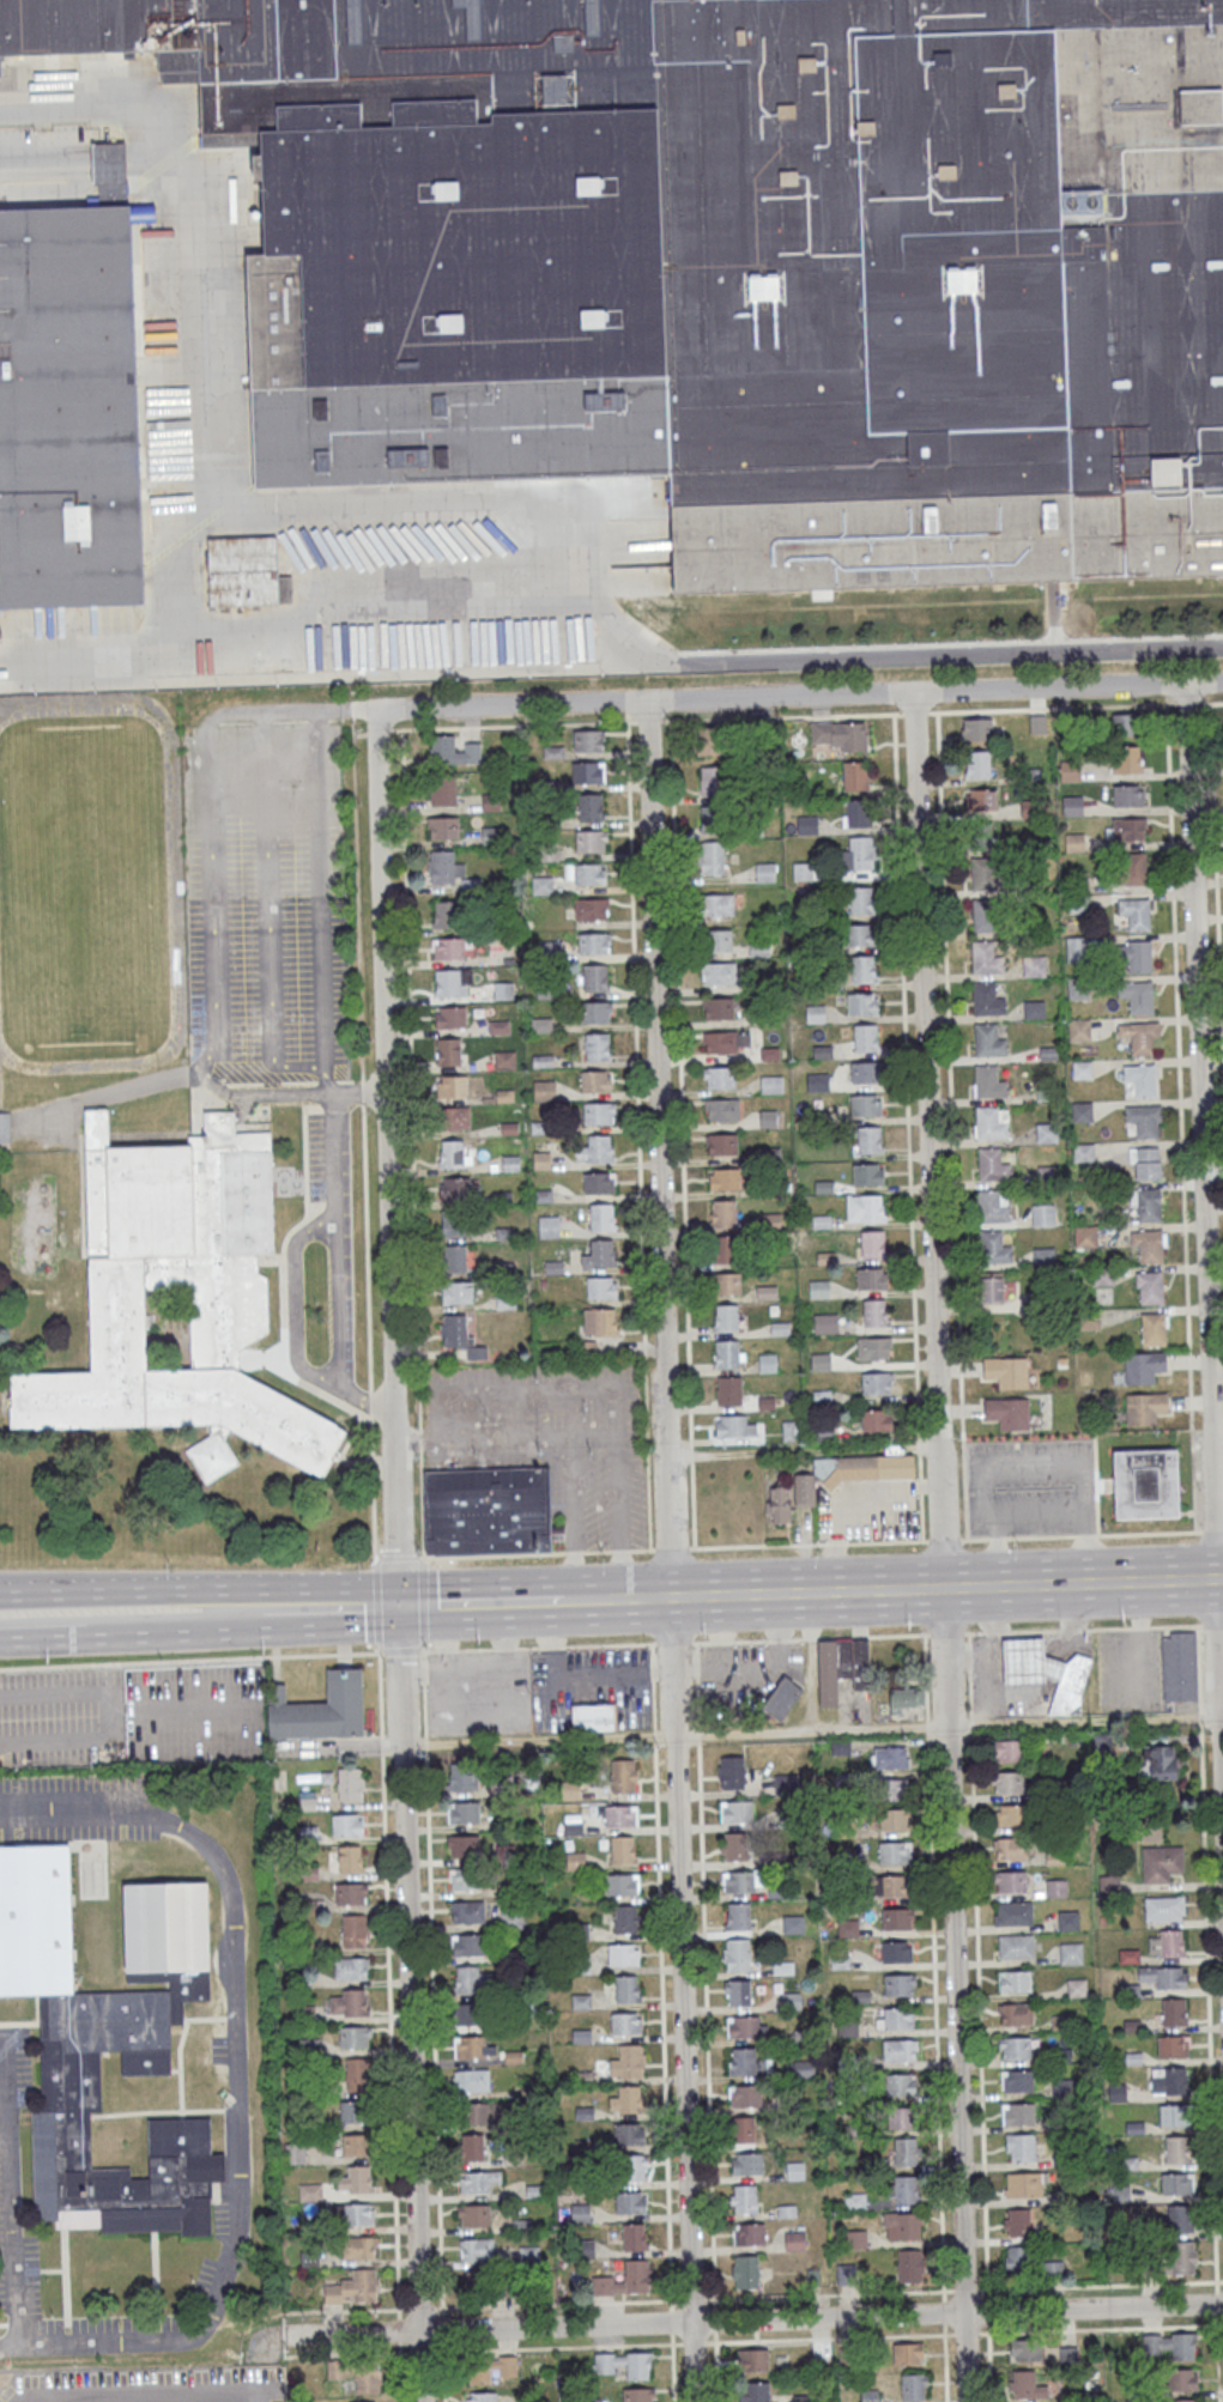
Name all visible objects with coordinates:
road: (97, 110)
building: (107, 164)
road: (80, 165)
road: (107, 165)
road: (36, 166)
road: (71, 175)
road: (32, 186)
building: (737, 263)
building: (68, 416)
road: (564, 510)
building: (246, 572)
road: (810, 696)
road: (231, 714)
building: (1126, 723)
building: (977, 730)
building: (838, 734)
building: (588, 740)
building: (709, 741)
building: (452, 751)
building: (1126, 758)
building: (977, 765)
building: (1072, 770)
building: (587, 772)
building: (855, 775)
building: (710, 781)
building: (442, 790)
building: (1128, 795)
building: (980, 800)
building: (1072, 806)
building: (591, 807)
building: (856, 813)
building: (712, 818)
building: (807, 825)
building: (442, 826)
building: (1126, 829)
building: (981, 835)
building: (589, 841)
road: (320, 854)
building: (858, 854)
building: (712, 857)
building: (444, 868)
building: (1132, 868)
building: (764, 872)
building: (985, 873)
building: (589, 874)
building: (543, 886)
building: (860, 899)
building: (718, 904)
building: (591, 909)
building: (1134, 914)
building: (447, 915)
building: (986, 916)
building: (860, 934)
road: (217, 935)
building: (720, 940)
building: (593, 944)
building: (448, 948)
building: (1077, 948)
building: (1136, 954)
building: (987, 958)
building: (864, 969)
building: (719, 973)
building: (594, 978)
building: (450, 983)
building: (1077, 988)
building: (1137, 996)
building: (987, 999)
building: (862, 1003)
building: (719, 1007)
building: (1034, 1009)
building: (595, 1012)
building: (813, 1012)
building: (450, 1017)
building: (1078, 1029)
building: (1137, 1036)
building: (866, 1038)
building: (726, 1041)
building: (988, 1041)
building: (597, 1045)
building: (448, 1051)
building: (864, 1073)
building: (719, 1076)
building: (1140, 1079)
building: (595, 1081)
building: (988, 1081)
building: (817, 1082)
building: (771, 1084)
building: (452, 1085)
building: (543, 1090)
road: (266, 1093)
road: (358, 1093)
building: (865, 1106)
building: (721, 1109)
building: (1083, 1112)
building: (598, 1114)
building: (454, 1117)
building: (1144, 1120)
building: (991, 1122)
building: (4, 1127)
building: (1046, 1133)
building: (868, 1140)
building: (721, 1144)
building: (595, 1150)
road: (658, 1150)
building: (453, 1154)
building: (769, 1157)
building: (992, 1165)
building: (1146, 1165)
building: (867, 1173)
building: (725, 1179)
building: (599, 1182)
building: (454, 1187)
building: (993, 1206)
building: (1148, 1206)
building: (865, 1207)
building: (722, 1213)
building: (1042, 1214)
building: (601, 1217)
building: (453, 1223)
building: (549, 1226)
road: (334, 1231)
building: (1086, 1236)
building: (872, 1243)
building: (995, 1245)
building: (1148, 1247)
building: (722, 1248)
building: (600, 1255)
building: (1043, 1255)
building: (454, 1257)
road: (1205, 1266)
building: (871, 1278)
building: (727, 1282)
building: (601, 1287)
building: (1150, 1287)
building: (818, 1288)
building: (989, 1290)
building: (456, 1292)
road: (295, 1302)
building: (229, 1312)
building: (874, 1312)
building: (726, 1318)
building: (600, 1321)
building: (825, 1323)
building: (1152, 1329)
building: (459, 1335)
building: (874, 1347)
building: (585, 1348)
building: (726, 1354)
building: (821, 1361)
building: (1143, 1366)
building: (1006, 1371)
building: (877, 1383)
building: (728, 1390)
road: (363, 1400)
building: (1145, 1407)
building: (1007, 1412)
building: (877, 1419)
building: (733, 1426)
building: (791, 1431)
building: (824, 1433)
road: (563, 1437)
road: (803, 1452)
building: (850, 1473)
building: (1146, 1482)
road: (373, 1491)
road: (619, 1494)
building: (780, 1505)
building: (486, 1511)
road: (1209, 1530)
road: (806, 1545)
road: (942, 1547)
road: (396, 1551)
road: (398, 1559)
road: (375, 1561)
road: (423, 1561)
road: (946, 1588)
road: (256, 1589)
road: (85, 1591)
road: (370, 1597)
road: (646, 1599)
road: (586, 1600)
road: (609, 1600)
road: (571, 1601)
road: (423, 1603)
road: (482, 1603)
road: (376, 1605)
traffic signals: (398, 1607)
road: (334, 1627)
road: (172, 1633)
road: (946, 1633)
road: (38, 1637)
road: (380, 1651)
road: (400, 1651)
road: (189, 1660)
building: (1029, 1662)
building: (1180, 1666)
building: (841, 1667)
parking lot: (1130, 1672)
building: (1070, 1687)
building: (782, 1697)
building: (906, 1700)
building: (320, 1708)
building: (593, 1717)
road: (1221, 1718)
road: (810, 1734)
building: (1007, 1751)
building: (889, 1757)
building: (1160, 1763)
building: (731, 1772)
building: (623, 1776)
building: (462, 1777)
building: (327, 1778)
building: (785, 1783)
building: (1007, 1783)
building: (350, 1784)
building: (894, 1789)
building: (570, 1791)
building: (737, 1810)
building: (462, 1813)
building: (619, 1815)
building: (1010, 1816)
building: (894, 1819)
building: (347, 1824)
building: (462, 1846)
building: (731, 1846)
road: (930, 1848)
building: (1013, 1848)
building: (623, 1849)
building: (895, 1851)
building: (349, 1860)
building: (574, 1860)
building: (1161, 1862)
building: (465, 1880)
building: (1010, 1880)
building: (739, 1881)
road: (702, 1882)
building: (620, 1884)
building: (889, 1886)
building: (1055, 1887)
building: (350, 1893)
road: (976, 1903)
building: (1164, 1906)
building: (466, 1911)
building: (1013, 1912)
building: (738, 1916)
building: (625, 1918)
building: (897, 1918)
building: (1067, 1919)
building: (793, 1924)
building: (848, 1928)
building: (353, 1930)
building: (1168, 1943)
building: (468, 1945)
building: (1016, 1946)
building: (896, 1952)
building: (1071, 1953)
building: (623, 1954)
building: (737, 1954)
building: (1130, 1955)
building: (838, 1959)
building: (783, 1966)
building: (350, 1967)
building: (1166, 1976)
building: (472, 1979)
building: (1015, 1981)
building: (898, 1984)
building: (1076, 1986)
building: (626, 1989)
building: (1131, 1990)
building: (737, 1992)
building: (860, 1995)
road: (682, 2000)
road: (1207, 2000)
building: (581, 2001)
building: (791, 2001)
building: (349, 2002)
building: (1173, 2010)
building: (1016, 2013)
building: (468, 2014)
building: (898, 2018)
road: (432, 2022)
building: (625, 2022)
road: (662, 2022)
building: (1061, 2022)
road: (389, 2024)
building: (1132, 2025)
building: (744, 2027)
building: (847, 2027)
building: (581, 2036)
building: (355, 2037)
building: (1173, 2045)
building: (108, 2046)
building: (473, 2046)
building: (1015, 2046)
building: (898, 2049)
building: (1061, 2055)
building: (514, 2056)
building: (1134, 2057)
building: (628, 2062)
building: (743, 2062)
building: (804, 2068)
building: (357, 2074)
road: (236, 2075)
building: (472, 2080)
building: (1017, 2080)
building: (1168, 2080)
building: (901, 2083)
building: (1116, 2092)
building: (745, 2095)
building: (626, 2100)
building: (355, 2111)
building: (1018, 2112)
building: (482, 2113)
building: (1175, 2115)
building: (902, 2117)
building: (1134, 2128)
building: (743, 2129)
building: (628, 2133)
building: (357, 2145)
building: (1021, 2146)
building: (472, 2148)
building: (1177, 2149)
building: (904, 2151)
building: (747, 2163)
building: (1128, 2163)
building: (636, 2167)
building: (478, 2180)
building: (356, 2182)
building: (1177, 2183)
building: (1024, 2184)
building: (902, 2189)
building: (1121, 2192)
building: (745, 2197)
building: (630, 2201)
building: (854, 2202)
building: (358, 2213)
building: (580, 2213)
building: (473, 2214)
building: (1177, 2218)
building: (1017, 2224)
building: (901, 2225)
building: (749, 2233)
road: (10, 2234)
building: (635, 2236)
building: (855, 2238)
building: (794, 2239)
building: (358, 2246)
building: (476, 2249)
parking lot: (16, 2255)
building: (1182, 2257)
building: (1017, 2260)
building: (909, 2264)
building: (746, 2270)
building: (624, 2280)
building: (482, 2285)
building: (353, 2289)
road: (755, 2297)
road: (752, 2319)
road: (755, 2341)
road: (265, 2342)
building: (1170, 2345)
road: (944, 2346)
road: (7, 2348)
building: (1028, 2349)
building: (908, 2353)
building: (752, 2360)
street lamp: (281, 2364)
building: (623, 2364)
building: (492, 2368)
building: (365, 2377)
building: (1177, 2379)
building: (1023, 2384)
building: (912, 2388)
building: (752, 2391)
building: (638, 2394)
building: (870, 2395)
building: (482, 2396)
building: (803, 2397)
building: (591, 2400)
building: (1185, 2400)
building: (363, 2401)

